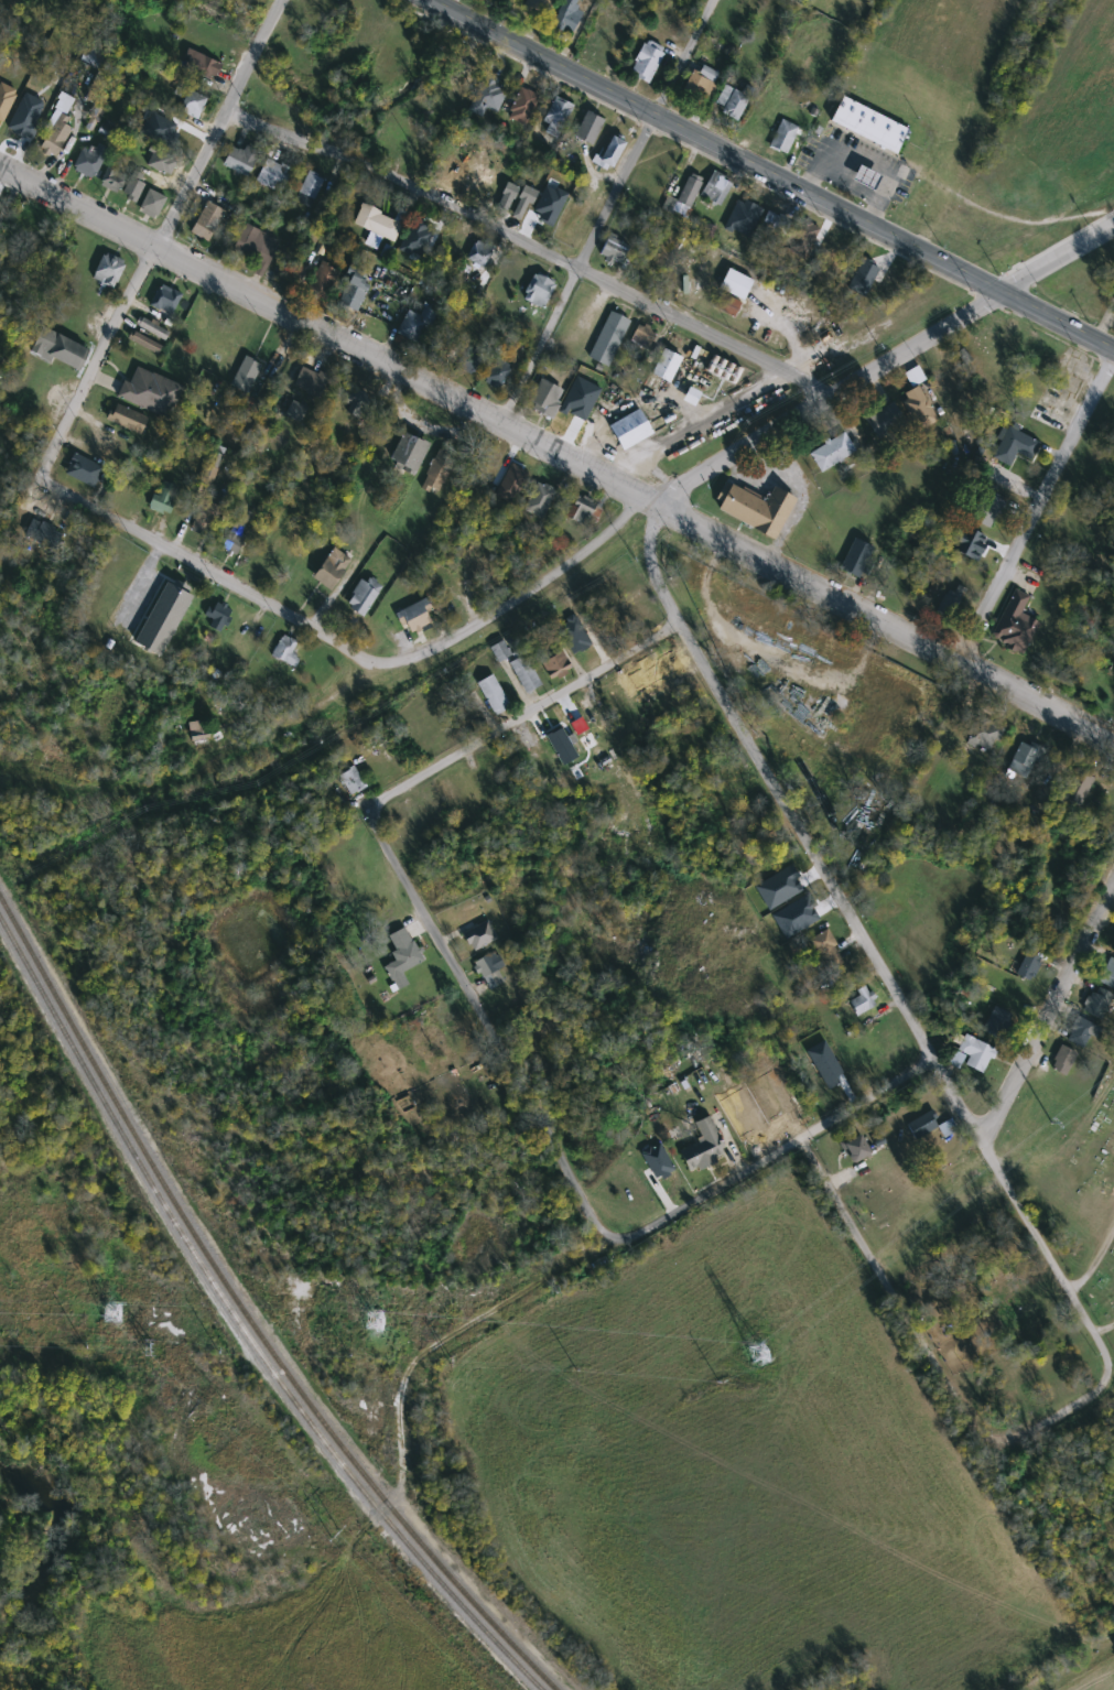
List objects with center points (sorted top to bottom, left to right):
building: (536, 6)
building: (569, 15)
road: (683, 57)
building: (647, 61)
building: (201, 66)
building: (464, 80)
building: (700, 86)
building: (733, 101)
building: (192, 105)
building: (558, 117)
building: (868, 124)
building: (588, 128)
building: (57, 130)
building: (787, 138)
building: (610, 154)
building: (241, 160)
building: (90, 161)
building: (161, 162)
building: (447, 172)
road: (770, 174)
building: (273, 175)
building: (115, 176)
road: (2, 177)
building: (468, 177)
building: (866, 177)
building: (133, 186)
building: (489, 187)
building: (716, 188)
building: (310, 191)
building: (690, 191)
building: (507, 198)
building: (152, 204)
building: (523, 204)
building: (544, 215)
building: (207, 221)
building: (776, 224)
building: (377, 226)
road: (154, 236)
building: (18, 238)
road: (529, 242)
building: (256, 249)
building: (614, 252)
building: (479, 254)
road: (1057, 256)
road: (577, 268)
building: (109, 270)
building: (323, 281)
building: (354, 290)
building: (539, 291)
building: (732, 293)
building: (166, 301)
building: (415, 325)
building: (154, 329)
building: (988, 336)
building: (643, 337)
building: (608, 339)
building: (147, 343)
building: (60, 349)
building: (963, 359)
building: (469, 361)
building: (667, 366)
building: (247, 373)
building: (498, 375)
building: (310, 382)
building: (947, 387)
building: (150, 392)
road: (830, 394)
building: (545, 399)
building: (919, 408)
building: (295, 411)
road: (480, 411)
building: (127, 419)
building: (885, 420)
building: (630, 430)
building: (1014, 448)
building: (408, 453)
building: (832, 453)
building: (487, 458)
building: (439, 469)
building: (132, 485)
building: (545, 495)
road: (636, 495)
building: (163, 497)
road: (1037, 507)
building: (758, 509)
building: (987, 511)
building: (583, 514)
building: (205, 518)
railway: (576, 524)
building: (43, 533)
building: (235, 539)
building: (856, 559)
building: (331, 568)
road: (206, 575)
building: (363, 596)
road: (513, 600)
building: (951, 604)
building: (166, 614)
building: (218, 617)
building: (638, 617)
building: (414, 618)
building: (1015, 625)
building: (586, 646)
building: (285, 651)
building: (501, 651)
building: (556, 668)
building: (663, 668)
building: (524, 673)
building: (616, 693)
building: (494, 695)
road: (1036, 701)
road: (304, 708)
road: (522, 714)
building: (985, 734)
building: (562, 747)
building: (1024, 760)
building: (497, 763)
building: (351, 781)
building: (1078, 786)
building: (1112, 813)
building: (866, 815)
building: (414, 828)
building: (886, 912)
building: (479, 936)
building: (828, 949)
building: (1113, 951)
building: (403, 952)
road: (868, 955)
building: (1029, 967)
building: (489, 969)
building: (1106, 973)
building: (862, 1001)
building: (1096, 1003)
building: (439, 1016)
road: (1045, 1017)
building: (997, 1022)
road: (484, 1029)
building: (1082, 1032)
building: (973, 1054)
building: (1063, 1061)
power tower: (1051, 1123)
building: (928, 1127)
building: (703, 1147)
building: (855, 1149)
road: (770, 1158)
park: (1081, 1202)
road: (1093, 1267)
road: (904, 1311)
power tower: (110, 1313)
railway: (248, 1314)
railway: (241, 1324)
building: (757, 1353)
power tower: (759, 1356)
road: (411, 1357)
park: (1113, 1389)
road: (1060, 1418)

